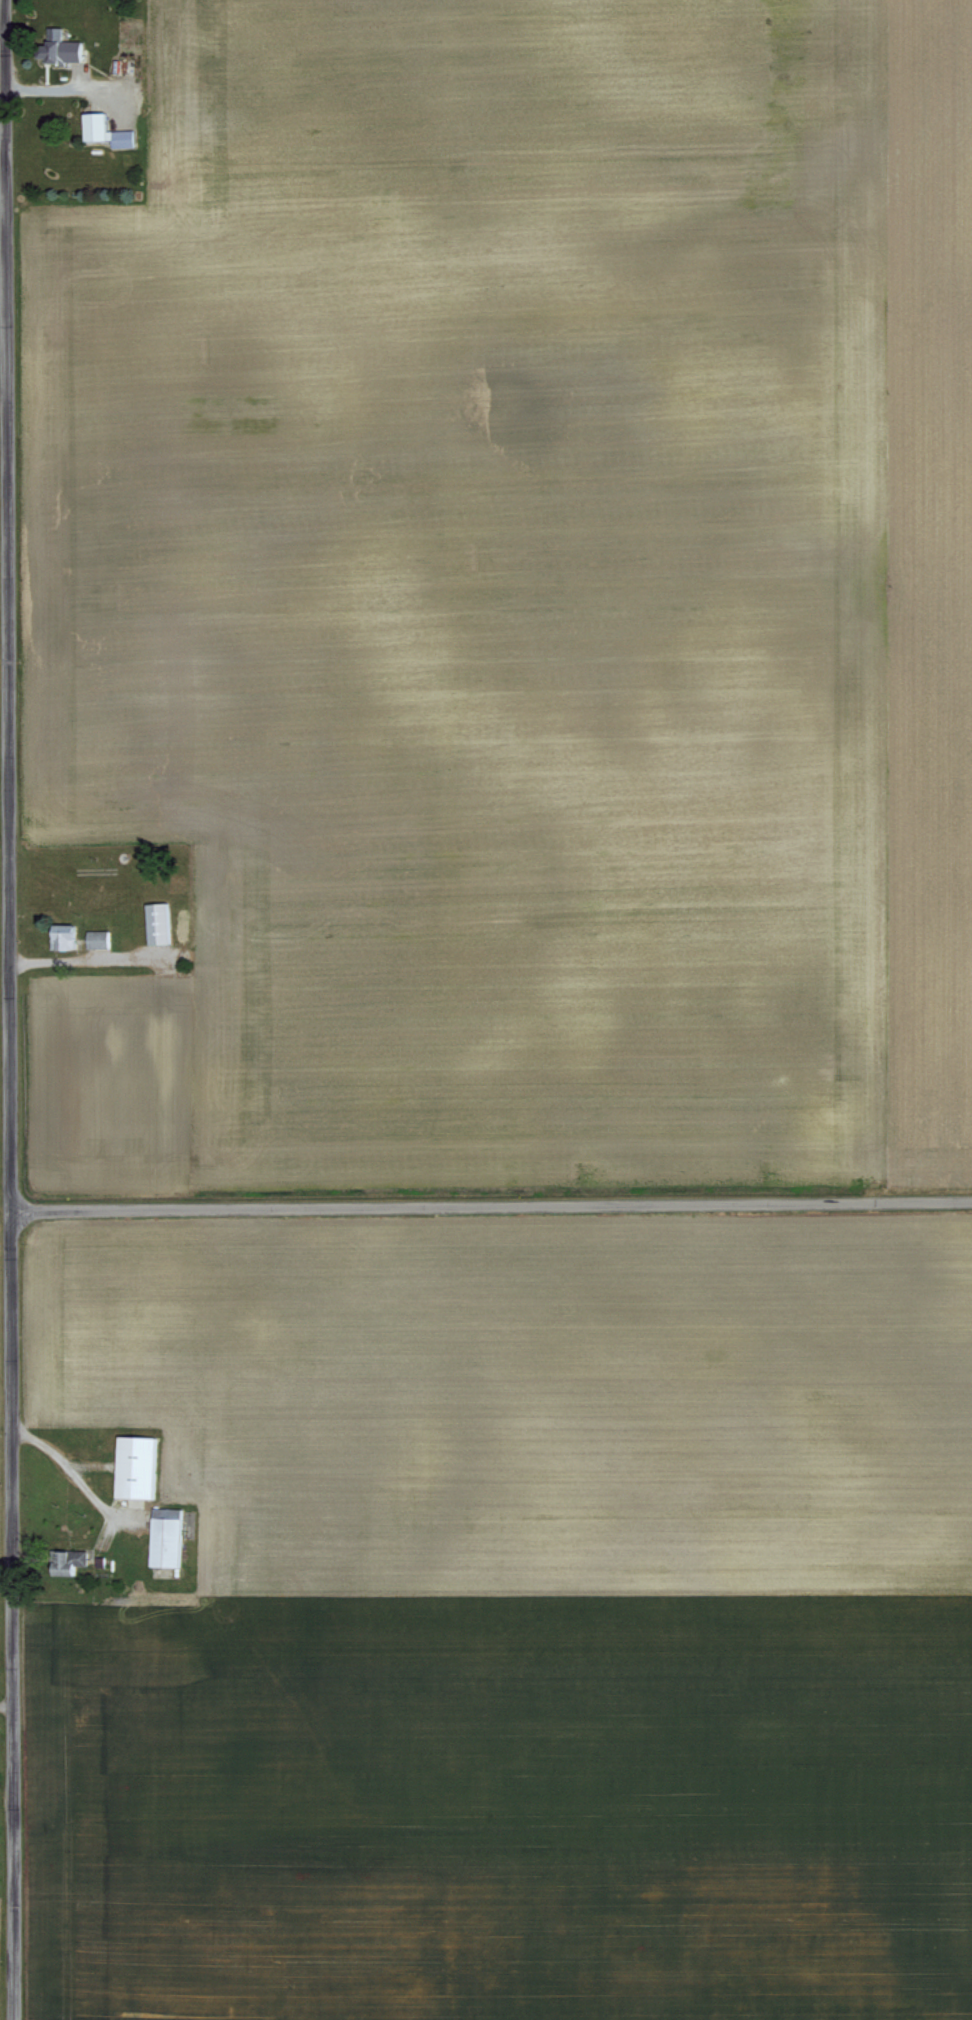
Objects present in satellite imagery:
building: (55, 45)
building: (102, 128)
building: (153, 921)
building: (95, 937)
road: (2, 1073)
road: (487, 1203)
road: (56, 1464)
building: (133, 1467)
building: (163, 1535)

